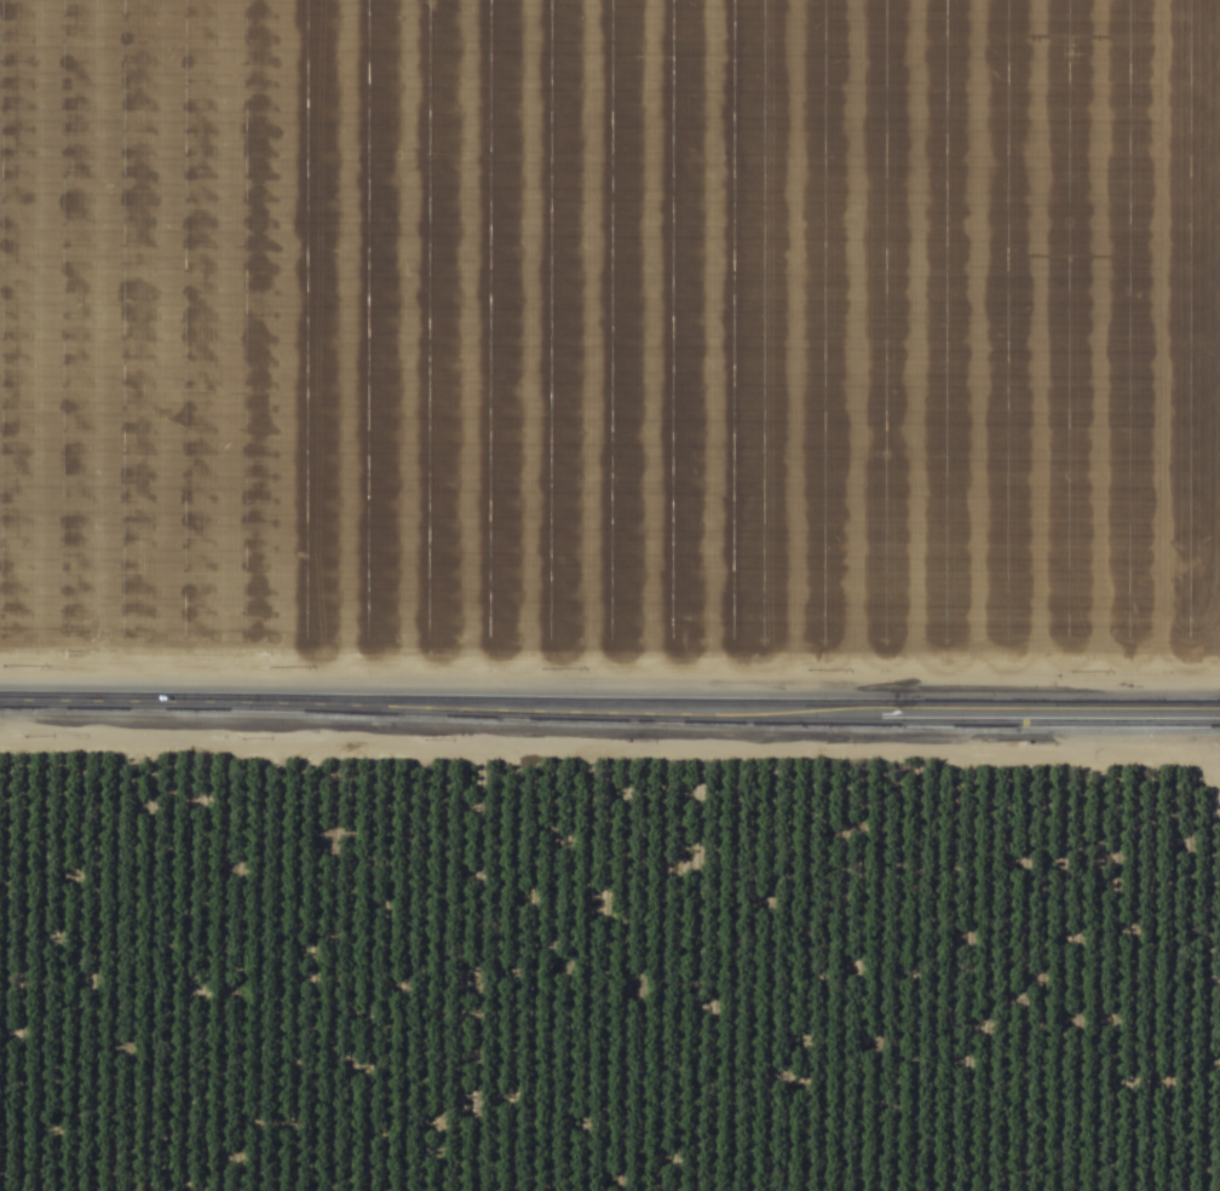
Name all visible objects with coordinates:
road: (610, 707)
crop: (610, 959)

